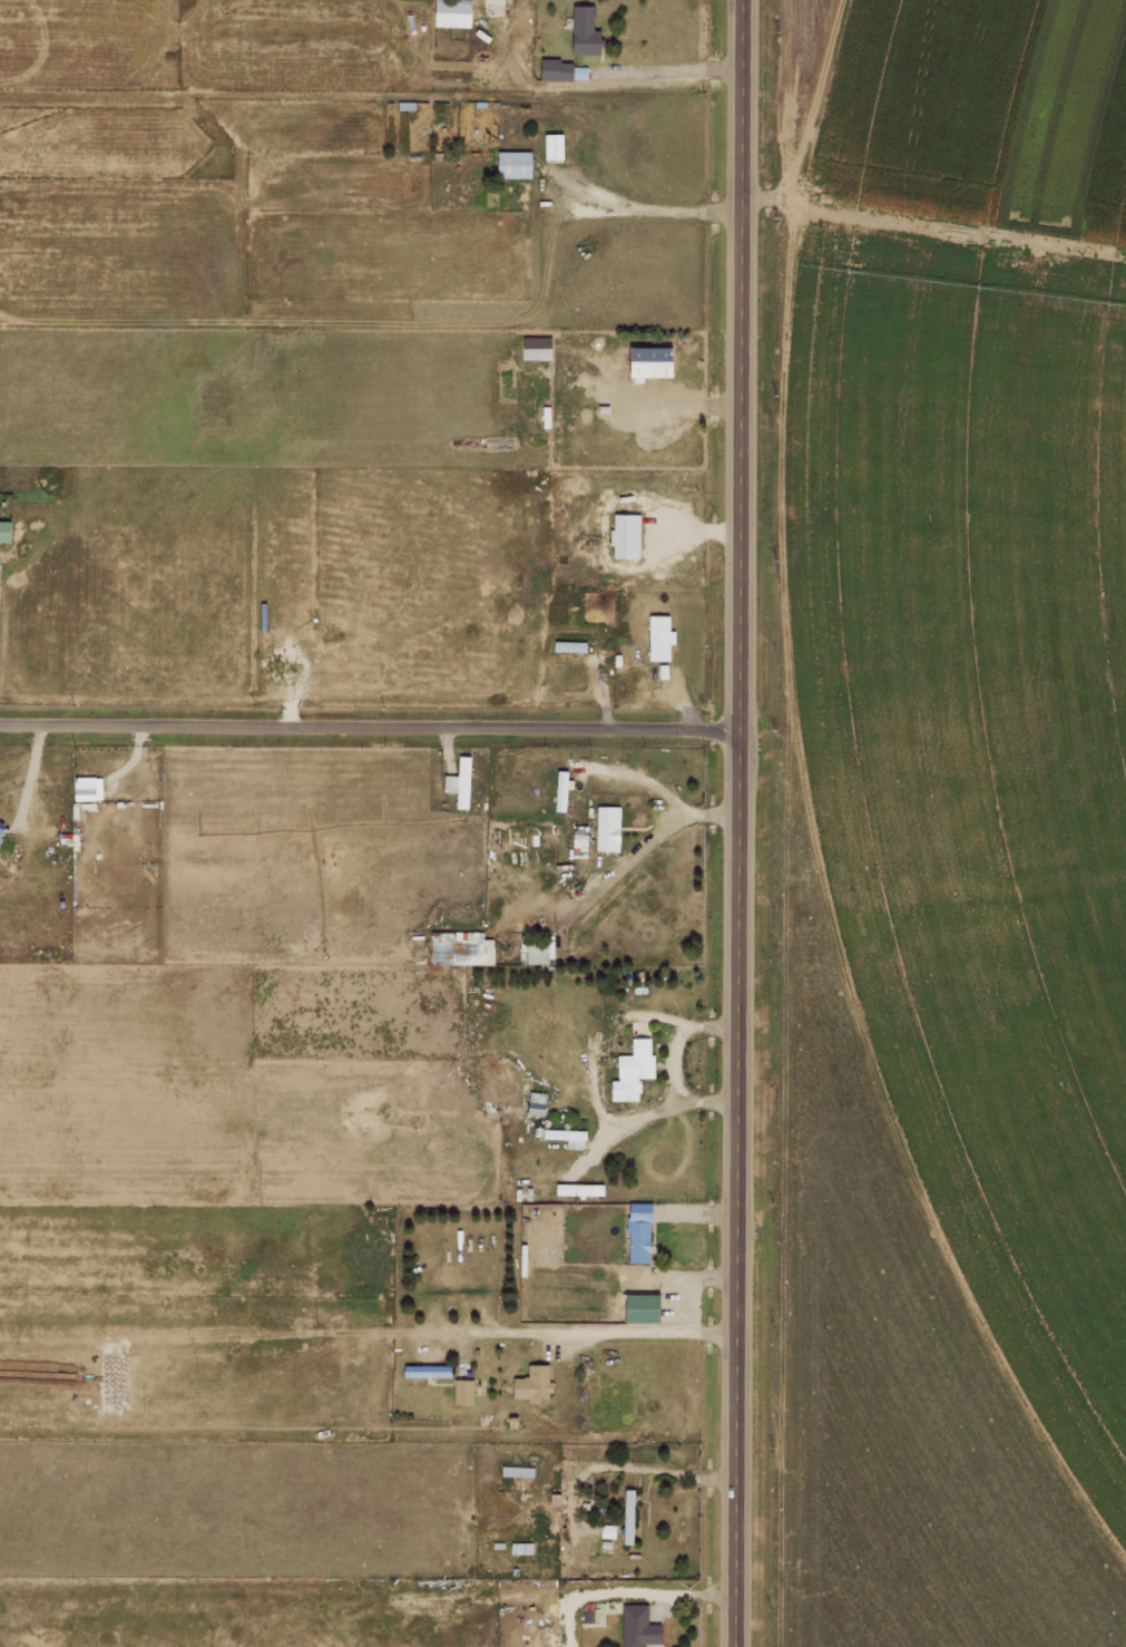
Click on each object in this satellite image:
building: (491, 1)
building: (450, 13)
building: (581, 31)
building: (550, 147)
building: (510, 165)
building: (533, 348)
building: (644, 361)
building: (7, 529)
building: (623, 536)
building: (657, 637)
building: (570, 646)
road: (374, 723)
building: (458, 782)
building: (81, 789)
road: (747, 823)
building: (605, 828)
building: (2, 834)
building: (459, 948)
building: (535, 949)
building: (629, 1071)
building: (571, 1138)
building: (579, 1190)
building: (636, 1232)
building: (637, 1308)
building: (423, 1372)
building: (530, 1384)
building: (461, 1392)
building: (515, 1471)
building: (626, 1517)
building: (607, 1531)
building: (635, 1626)

